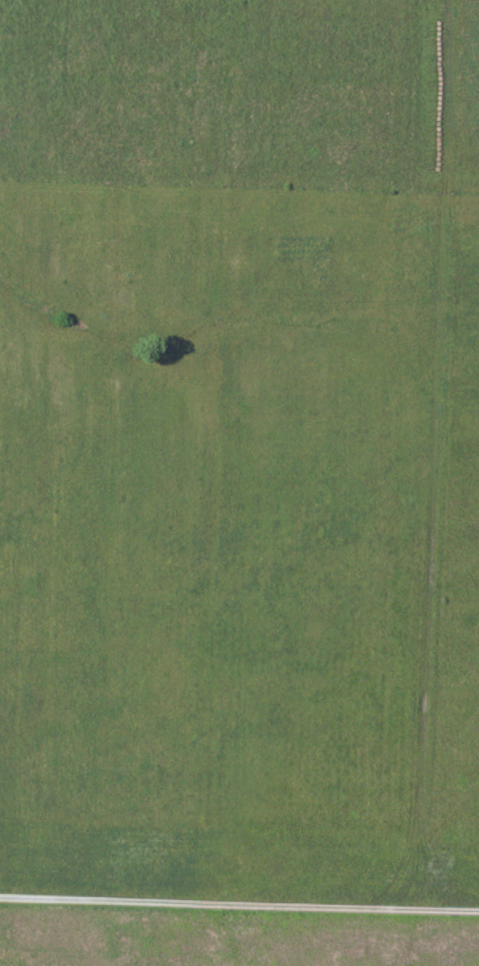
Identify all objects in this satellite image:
road: (239, 843)
road: (239, 897)

